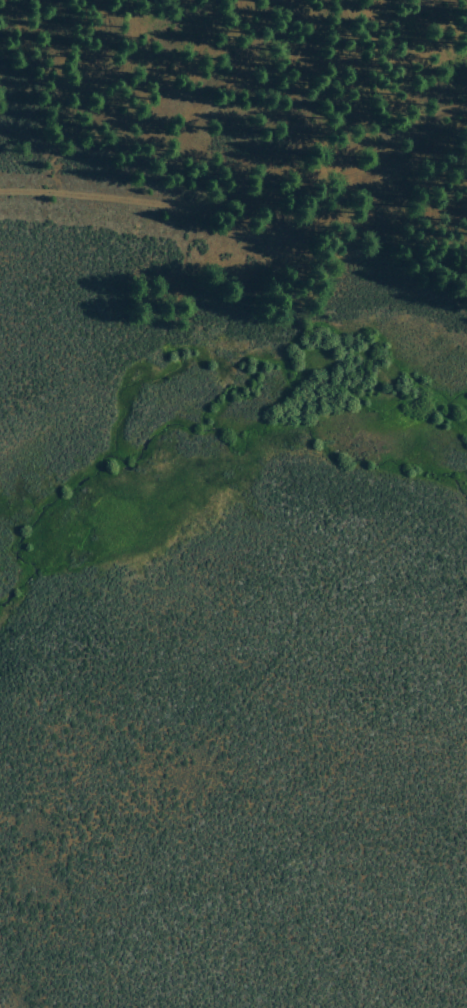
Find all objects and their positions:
road: (181, 120)
road: (341, 171)
road: (100, 194)
road: (301, 274)

